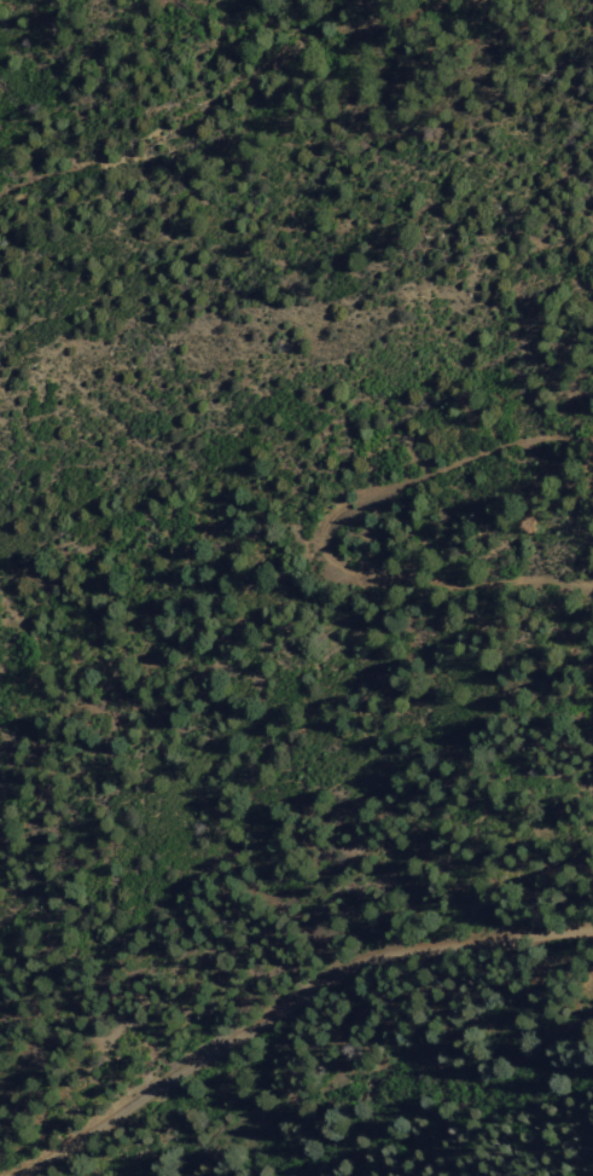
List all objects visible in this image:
road: (293, 977)

